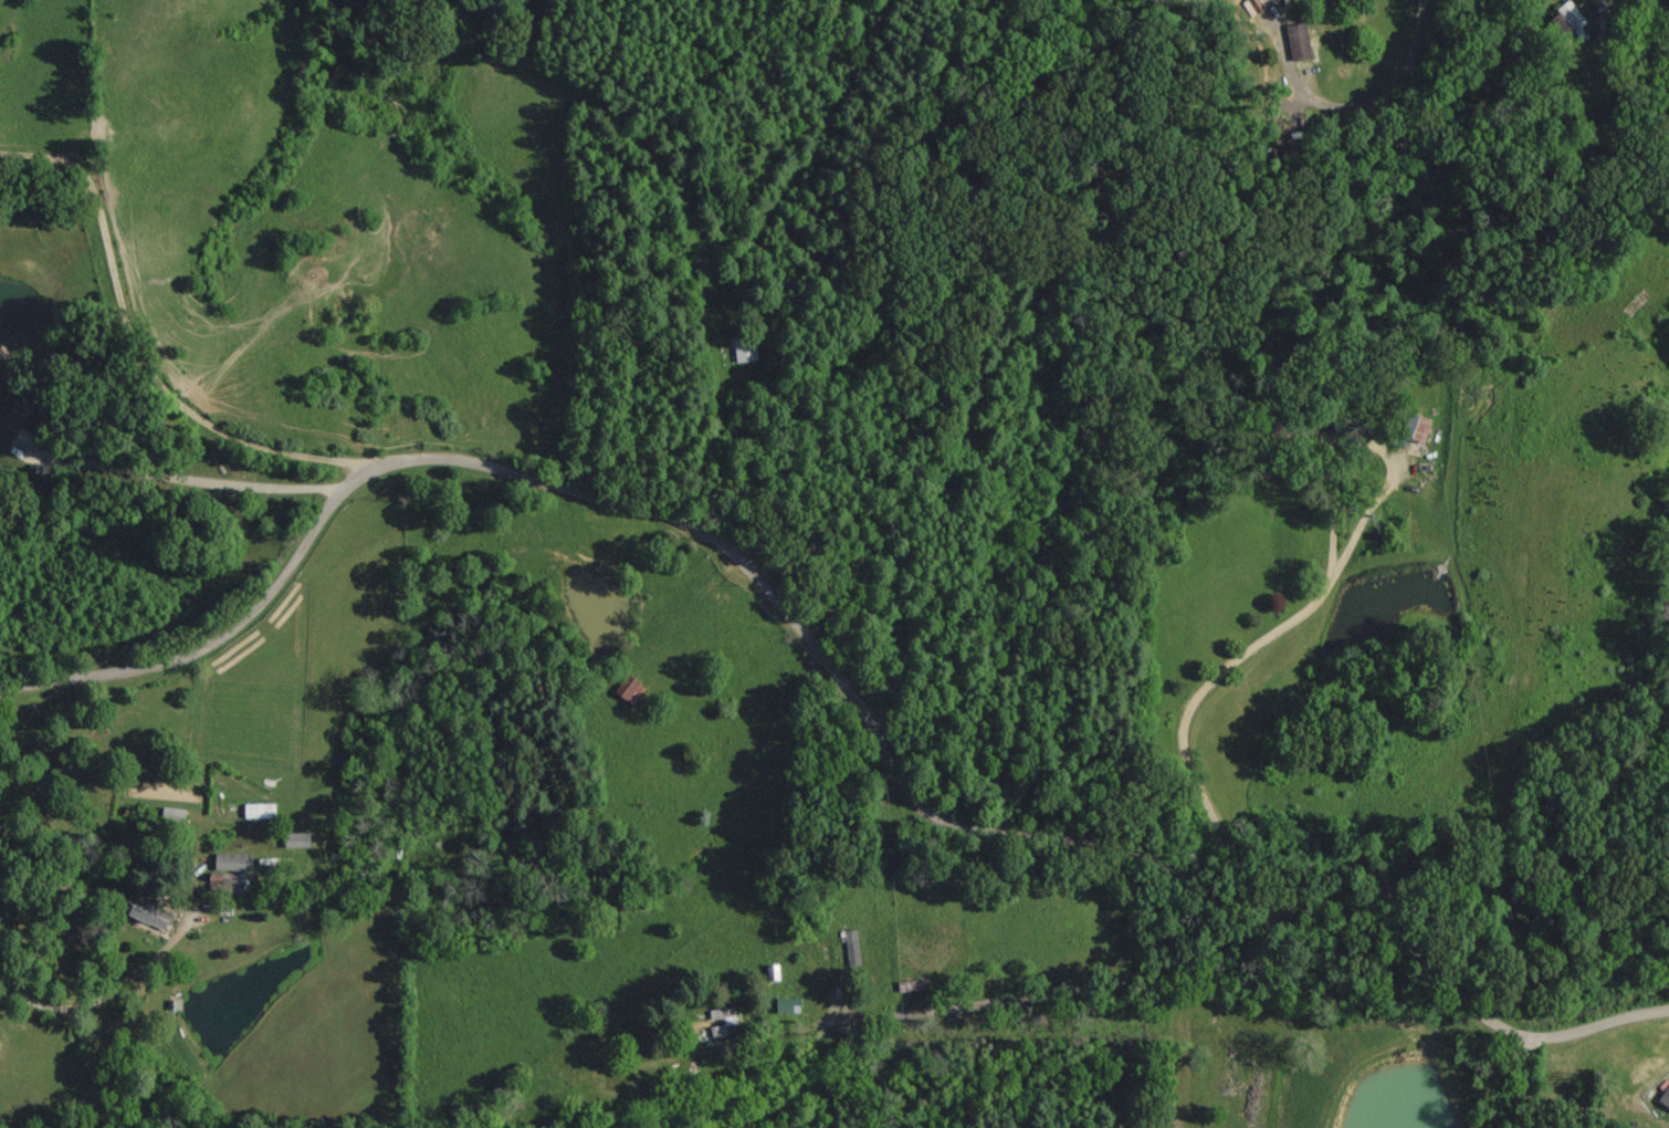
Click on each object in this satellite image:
road: (1656, 12)
building: (1574, 20)
building: (1295, 41)
road: (139, 347)
building: (13, 417)
building: (1414, 427)
road: (198, 477)
road: (682, 526)
road: (1224, 666)
building: (627, 689)
building: (256, 810)
building: (229, 861)
building: (146, 912)
road: (1279, 919)
building: (711, 1022)
road: (1524, 1080)
building: (1665, 1094)

